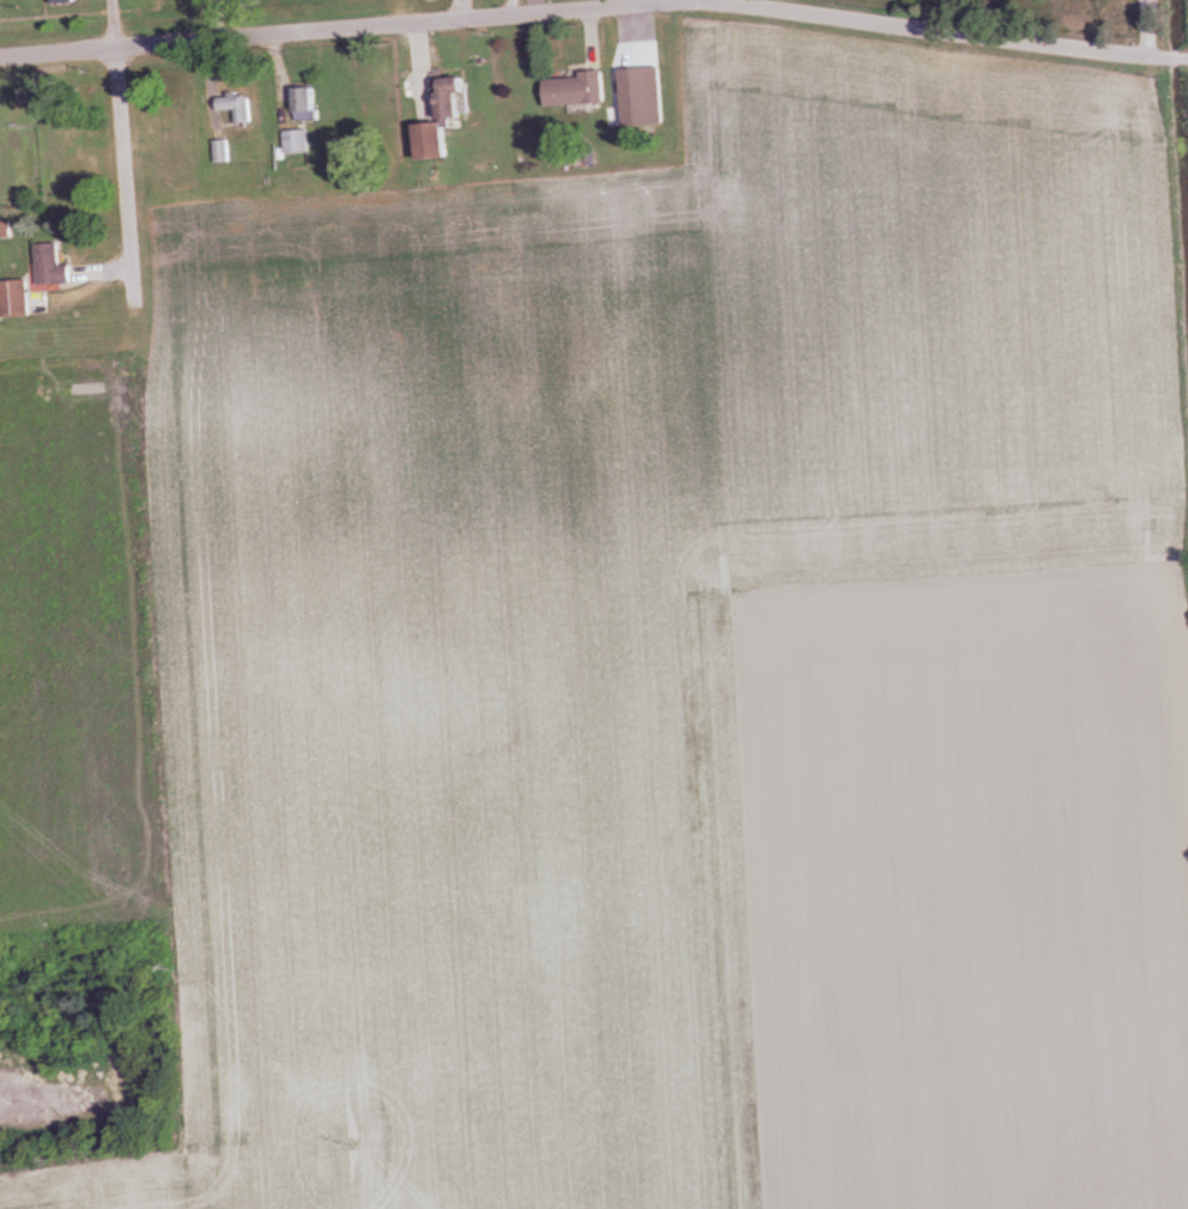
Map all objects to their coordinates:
building: (63, 1)
road: (693, 1)
road: (594, 10)
building: (638, 87)
building: (582, 90)
building: (308, 104)
building: (238, 108)
building: (449, 121)
building: (298, 142)
building: (223, 152)
road: (126, 177)
building: (54, 266)
building: (17, 299)

